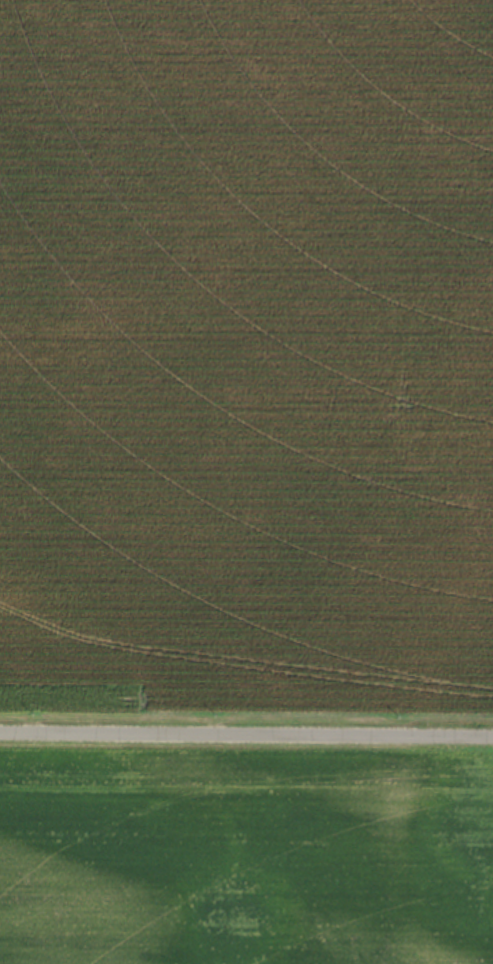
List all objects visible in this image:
road: (246, 740)

